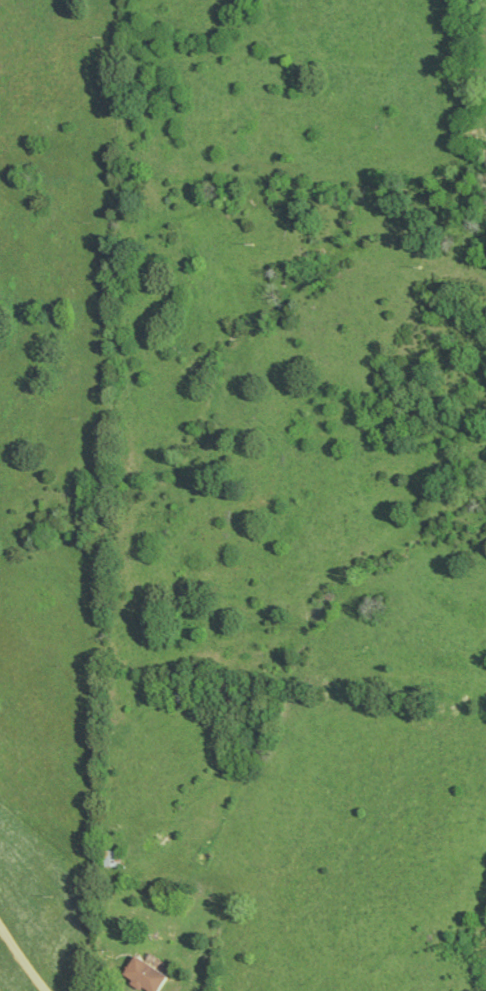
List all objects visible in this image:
building: (109, 857)
road: (21, 961)
building: (143, 974)

